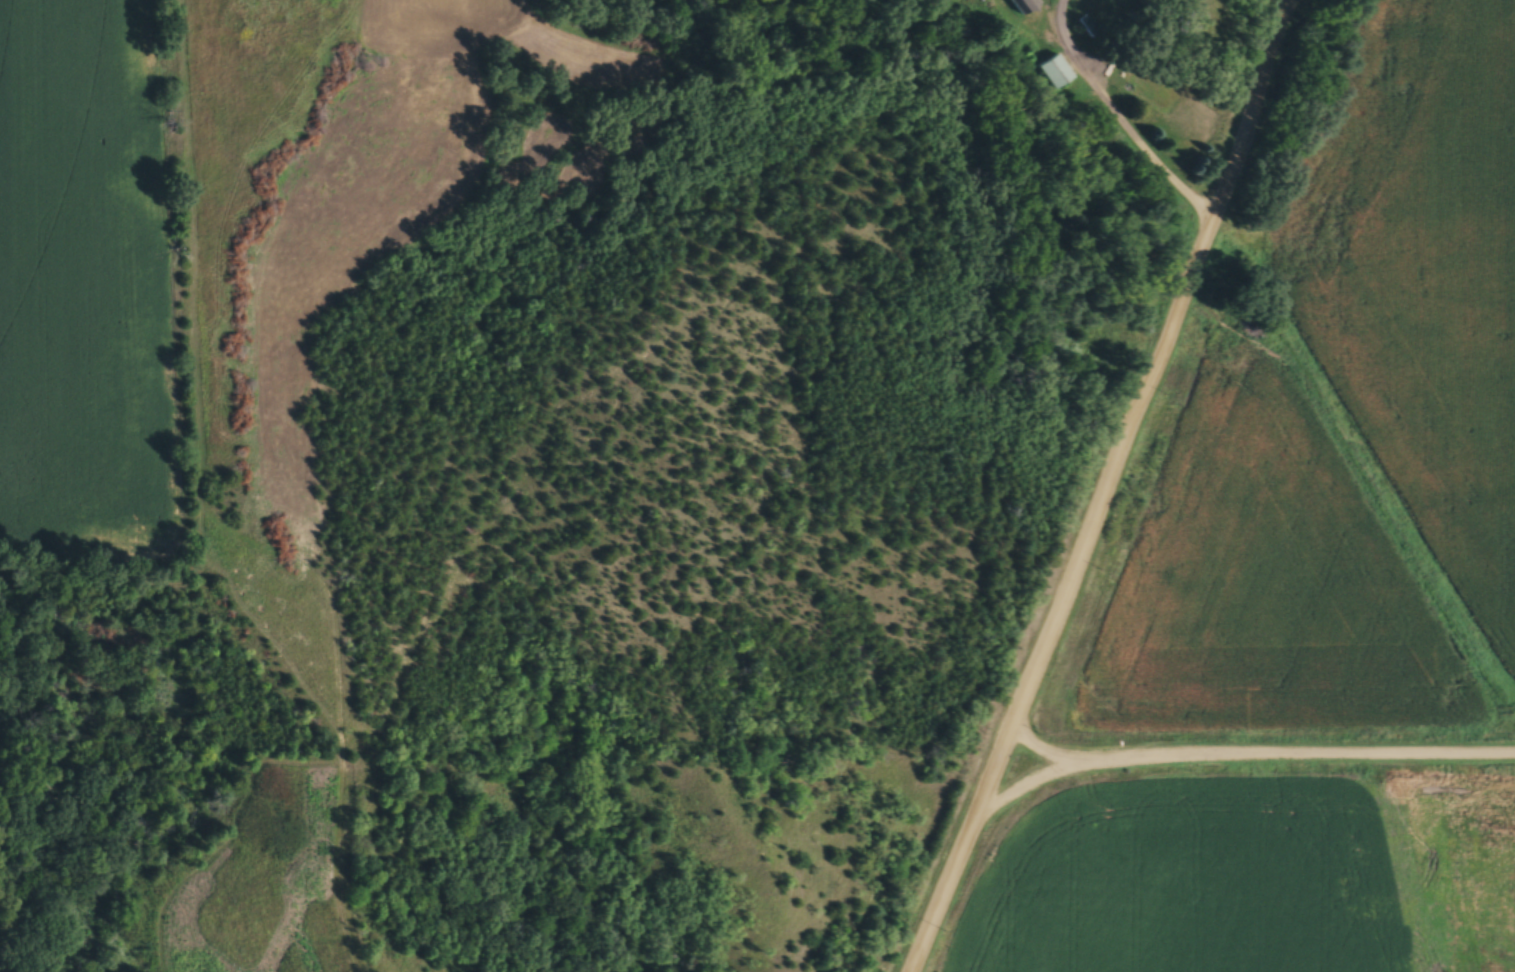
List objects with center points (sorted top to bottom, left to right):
road: (1120, 118)
road: (1112, 489)
road: (1261, 758)
road: (1037, 786)

